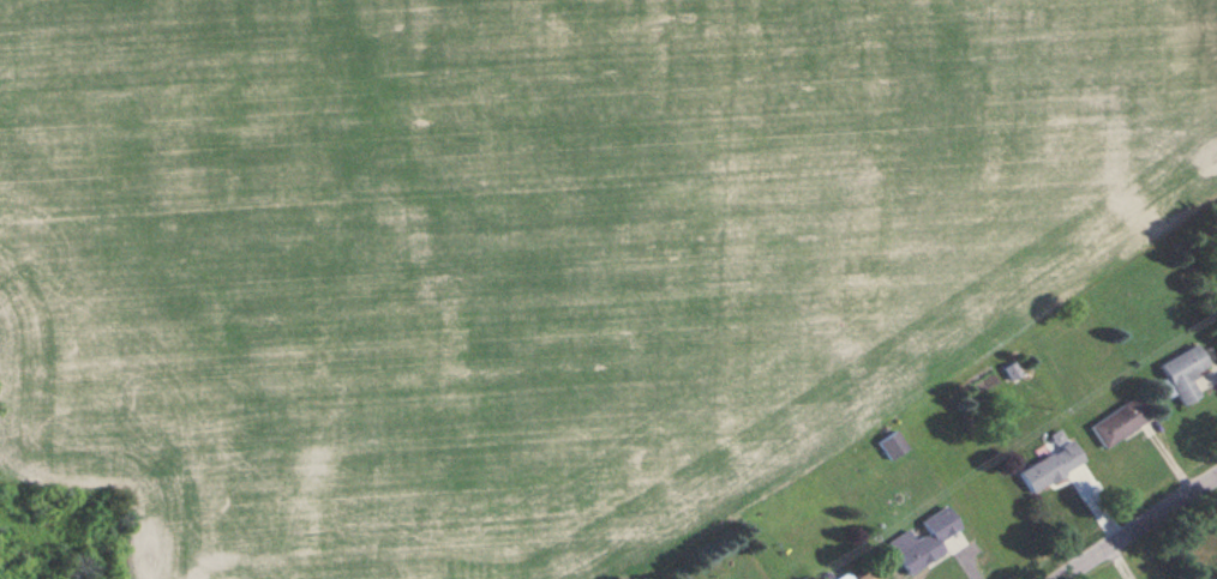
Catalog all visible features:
building: (1188, 373)
building: (1117, 422)
building: (892, 444)
building: (1050, 465)
road: (1137, 525)
building: (923, 541)
building: (862, 575)
building: (844, 577)

